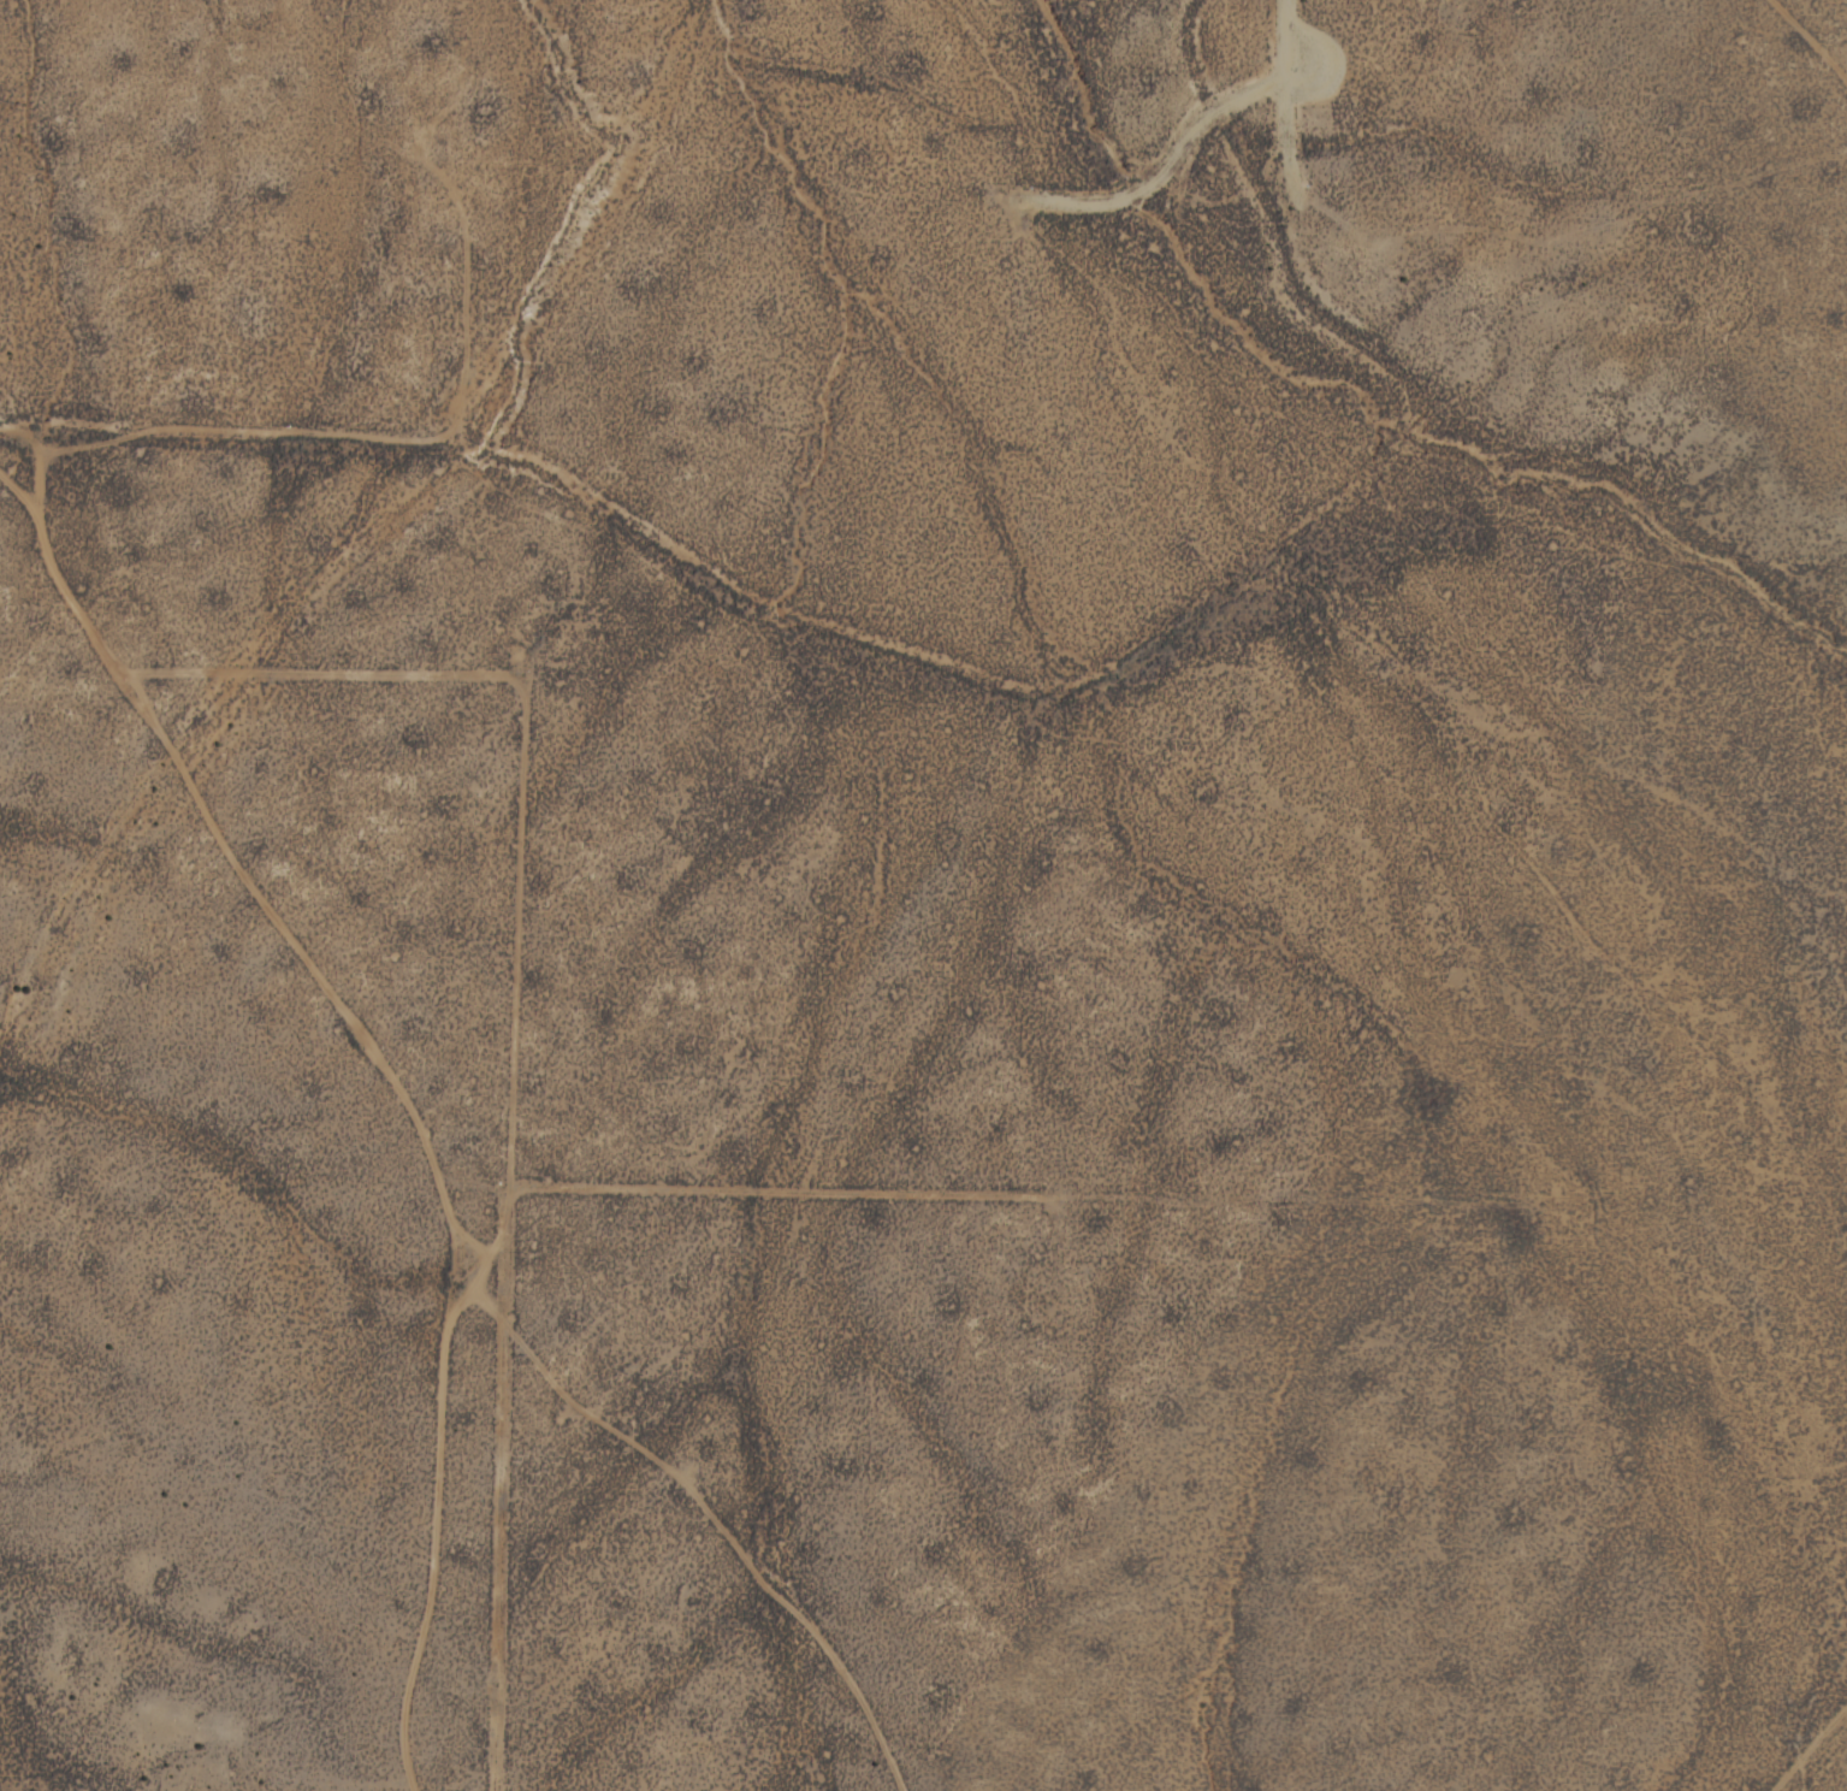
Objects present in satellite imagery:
road: (1811, 36)

